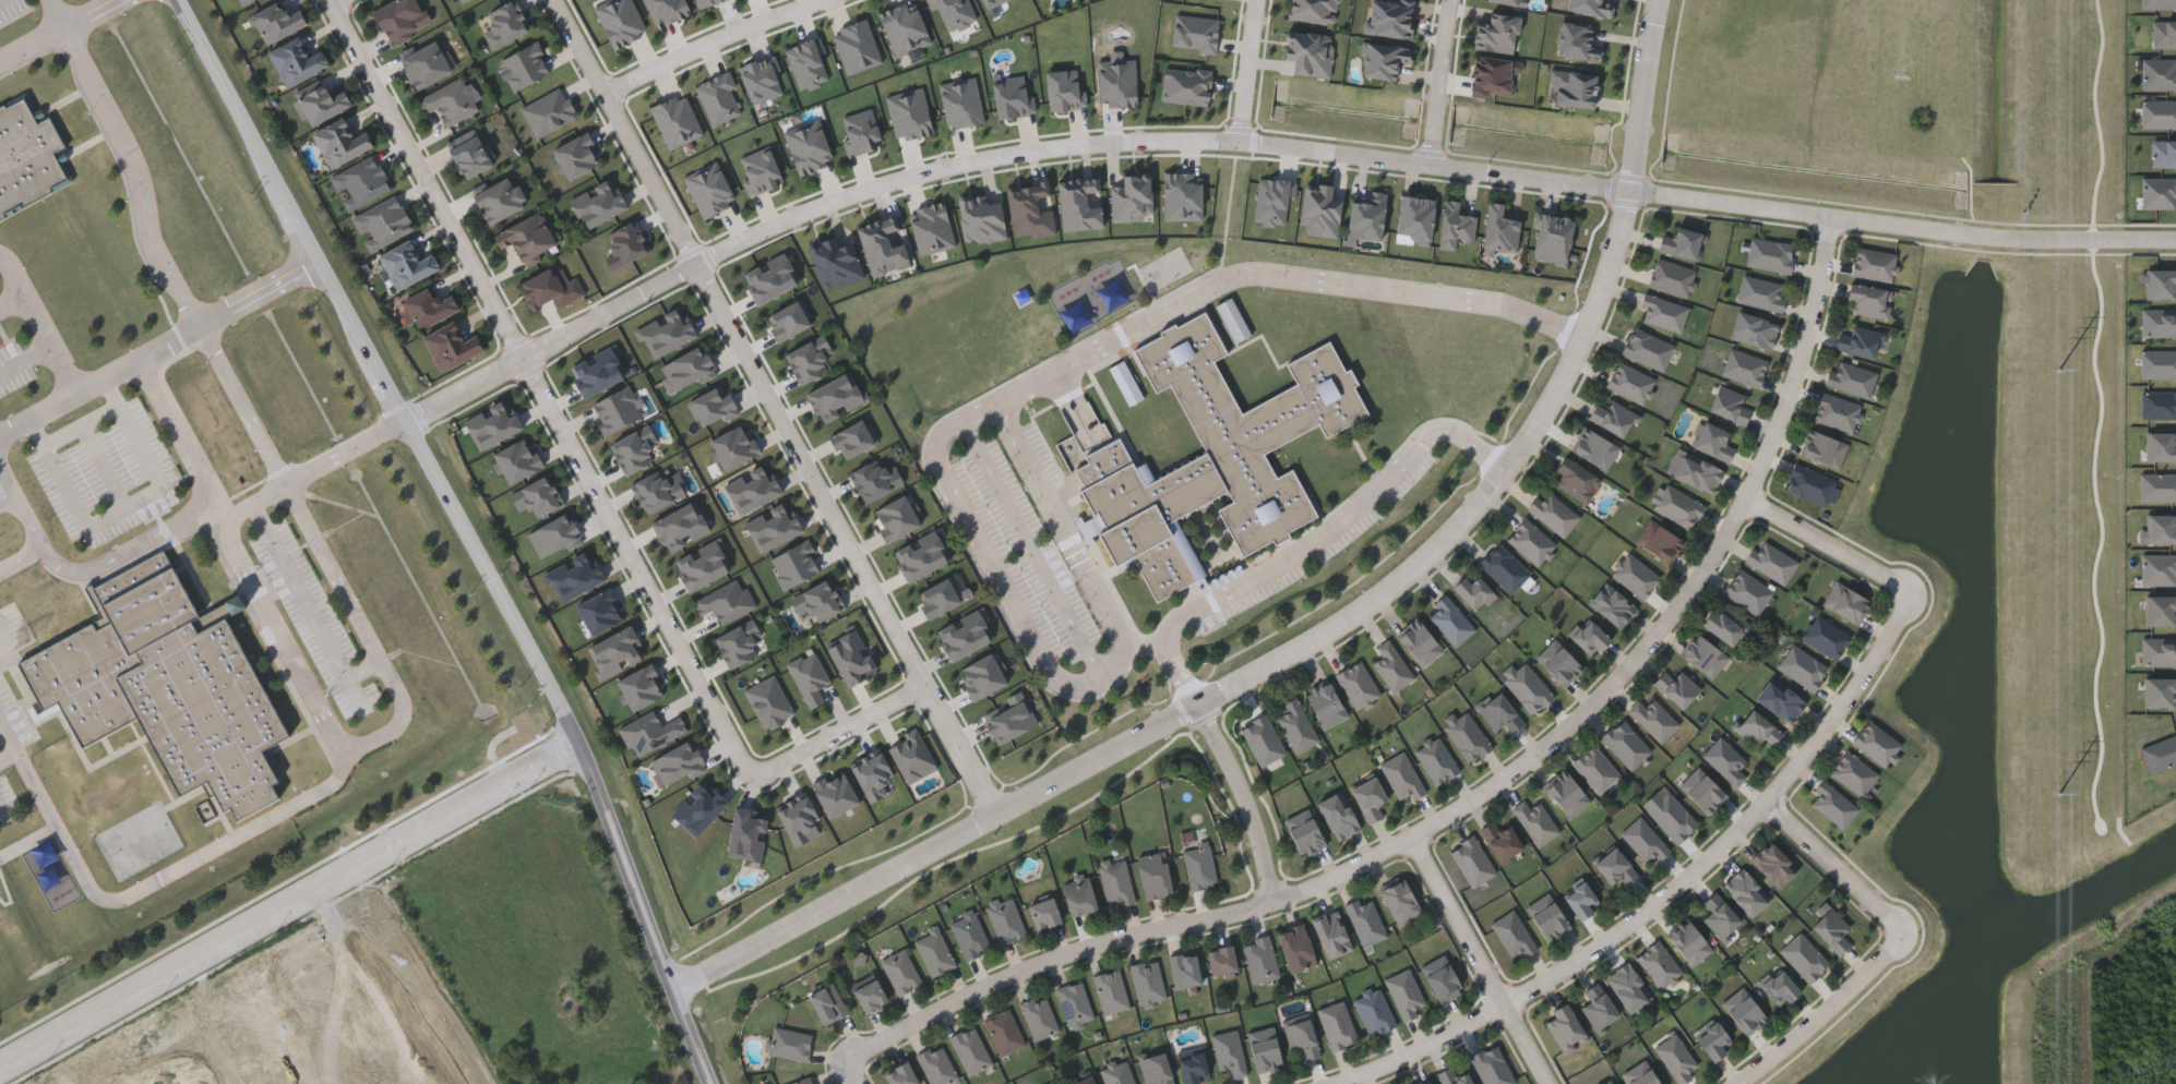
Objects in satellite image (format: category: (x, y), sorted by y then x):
building: (240, 1)
building: (1505, 1)
road: (5, 2)
road: (334, 2)
building: (2159, 3)
building: (1589, 7)
parking lot: (14, 11)
building: (398, 17)
building: (277, 20)
road: (61, 33)
building: (2163, 34)
building: (1576, 41)
road: (710, 45)
building: (296, 59)
building: (423, 63)
road: (1248, 71)
building: (2159, 73)
building: (1492, 74)
road: (1442, 83)
building: (1571, 87)
road: (1672, 88)
building: (449, 99)
building: (320, 101)
building: (2159, 113)
building: (339, 141)
road: (1262, 145)
building: (2164, 153)
building: (469, 154)
building: (23, 161)
building: (360, 180)
building: (2159, 192)
building: (499, 197)
road: (1913, 203)
building: (1364, 216)
building: (1413, 216)
building: (382, 221)
building: (1555, 224)
building: (1454, 225)
building: (527, 236)
building: (1684, 242)
road: (155, 250)
building: (1769, 255)
building: (406, 262)
building: (1874, 264)
road: (16, 274)
road: (1279, 276)
building: (1671, 278)
building: (551, 286)
building: (1760, 293)
building: (1868, 300)
road: (14, 303)
building: (428, 304)
building: (1662, 313)
road: (41, 323)
building: (1235, 323)
building: (1753, 330)
building: (1856, 340)
building: (451, 345)
building: (1646, 349)
road: (51, 351)
road: (153, 357)
building: (1743, 369)
power tower: (2061, 369)
building: (1850, 378)
building: (1630, 383)
building: (1128, 386)
road: (541, 390)
building: (1729, 405)
road: (776, 408)
building: (1836, 412)
road: (2100, 414)
building: (1611, 415)
road: (84, 426)
building: (1712, 442)
building: (1594, 448)
building: (1822, 449)
road: (345, 456)
building: (1212, 456)
road: (109, 467)
parking lot: (108, 473)
building: (1697, 473)
building: (1575, 480)
building: (1808, 484)
road: (10, 503)
building: (1677, 506)
road: (130, 508)
building: (1553, 513)
road: (466, 532)
road: (1312, 539)
road: (150, 540)
building: (1658, 541)
building: (1530, 542)
road: (1072, 544)
road: (1830, 547)
road: (1032, 549)
building: (1770, 562)
building: (1504, 568)
road: (992, 570)
building: (1634, 575)
building: (1472, 591)
building: (1747, 591)
building: (1845, 602)
building: (1611, 604)
road: (311, 609)
road: (273, 615)
building: (1449, 621)
road: (1323, 624)
building: (1726, 626)
road: (364, 629)
building: (1589, 637)
building: (1825, 637)
building: (1419, 643)
building: (1703, 655)
building: (1558, 663)
building: (1390, 667)
building: (1802, 667)
building: (1356, 685)
building: (1527, 686)
building: (167, 687)
building: (1676, 687)
building: (1779, 700)
building: (1325, 706)
building: (1499, 714)
parking lot: (14, 719)
building: (1653, 719)
building: (1295, 726)
building: (1756, 728)
road: (841, 734)
building: (1467, 737)
building: (1260, 739)
building: (1625, 744)
building: (1876, 744)
road: (9, 759)
building: (1435, 760)
building: (1724, 761)
building: (1594, 769)
building: (1853, 773)
building: (1400, 776)
road: (1480, 791)
building: (1701, 791)
power tower: (2058, 794)
building: (1565, 795)
road: (1242, 796)
building: (1367, 799)
road: (302, 804)
parking lot: (10, 805)
building: (1832, 805)
road: (3, 814)
building: (1337, 816)
building: (1672, 819)
building: (1534, 823)
building: (1304, 832)
building: (1499, 842)
building: (1643, 842)
park: (141, 843)
building: (1471, 862)
building: (1772, 865)
building: (1198, 866)
road: (1837, 867)
building: (1615, 868)
road: (85, 876)
building: (1152, 876)
building: (1115, 883)
road: (1669, 888)
building: (1745, 892)
building: (1078, 895)
building: (1399, 901)
building: (1580, 901)
road: (288, 902)
road: (375, 903)
building: (1042, 914)
road: (358, 915)
building: (1546, 917)
building: (1719, 917)
building: (1004, 920)
building: (1364, 920)
building: (1831, 930)
building: (1330, 935)
building: (1511, 935)
building: (969, 936)
building: (1688, 943)
building: (1294, 948)
building: (933, 952)
building: (1259, 959)
road: (1480, 959)
building: (1803, 959)
building: (1220, 961)
building: (1658, 965)
building: (1183, 971)
building: (900, 972)
building: (1440, 978)
building: (1147, 981)
building: (1626, 987)
building: (1779, 989)
building: (1110, 991)
building: (1403, 995)
building: (869, 996)
building: (1074, 1002)
building: (826, 1003)
building: (1597, 1007)
building: (1743, 1011)
road: (1824, 1011)
building: (1373, 1012)
road: (438, 1014)
building: (1038, 1016)
building: (1336, 1025)
building: (1565, 1028)
building: (1003, 1033)
building: (1301, 1038)
building: (1712, 1040)
building: (789, 1044)
building: (1263, 1049)
building: (969, 1050)
building: (1228, 1052)
road: (235, 1053)
building: (1675, 1058)
building: (936, 1065)
building: (1491, 1067)
building: (1192, 1068)
building: (1155, 1069)
road: (848, 1070)
building: (1116, 1073)
building: (899, 1074)
building: (1639, 1074)
building: (1452, 1076)
building: (1079, 1079)
building: (802, 1082)
building: (1423, 1082)
building: (1607, 1082)
building: (1050, 1083)
building: (1430, 1083)
building: (1612, 1083)

